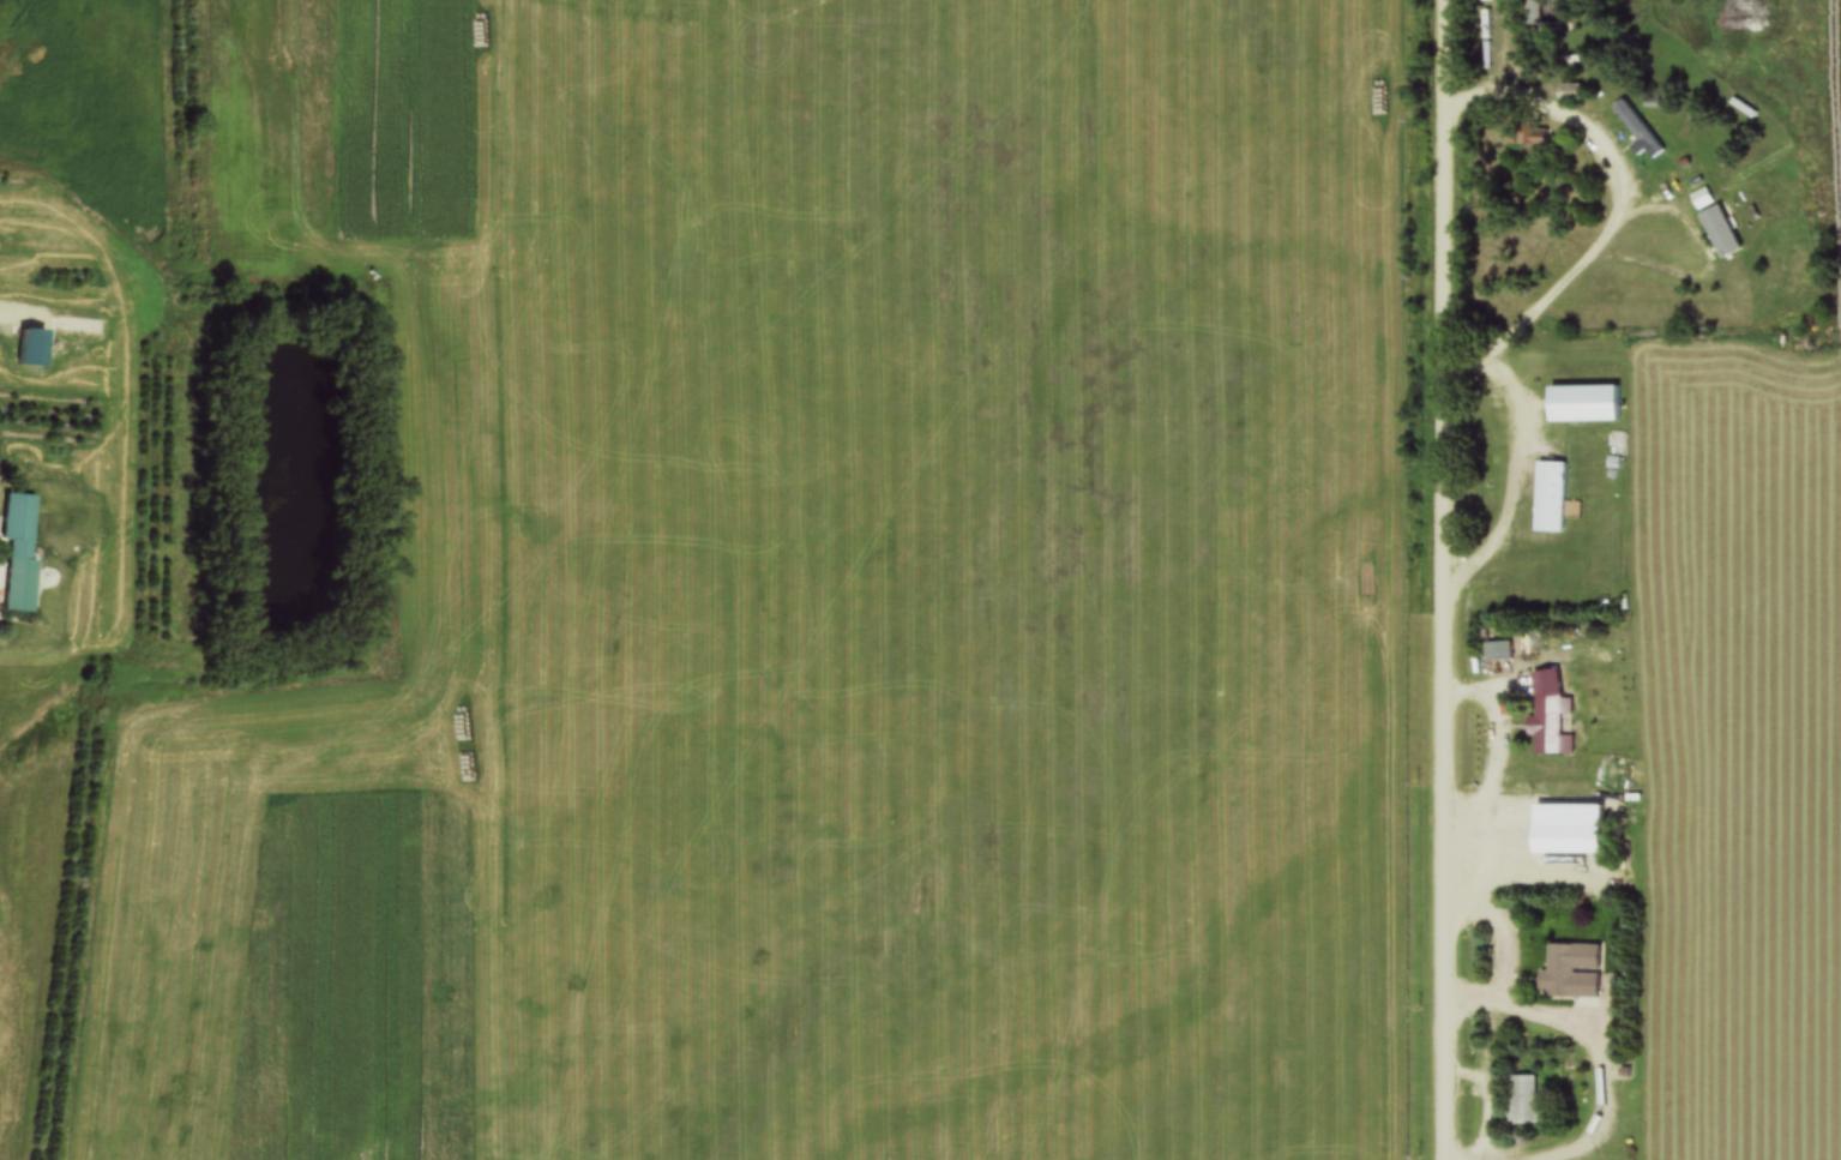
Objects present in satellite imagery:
building: (1482, 1)
building: (1528, 11)
building: (1580, 404)
building: (1547, 498)
building: (32, 554)
road: (1451, 579)
building: (1497, 651)
building: (1547, 715)
building: (1560, 841)
building: (1568, 972)
building: (1522, 1101)

